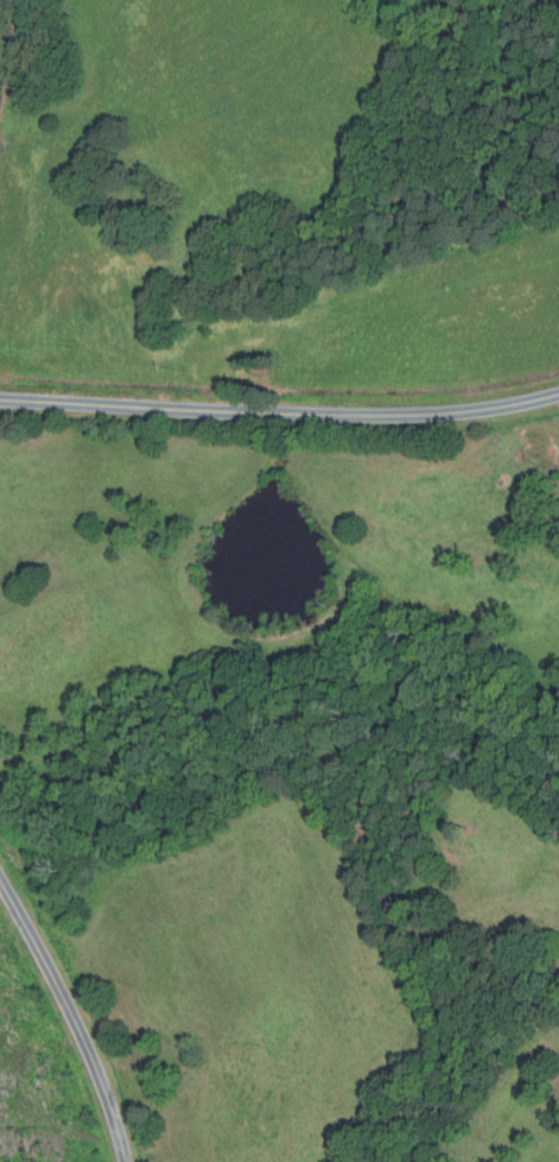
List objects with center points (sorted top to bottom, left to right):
road: (280, 412)
road: (71, 1016)

